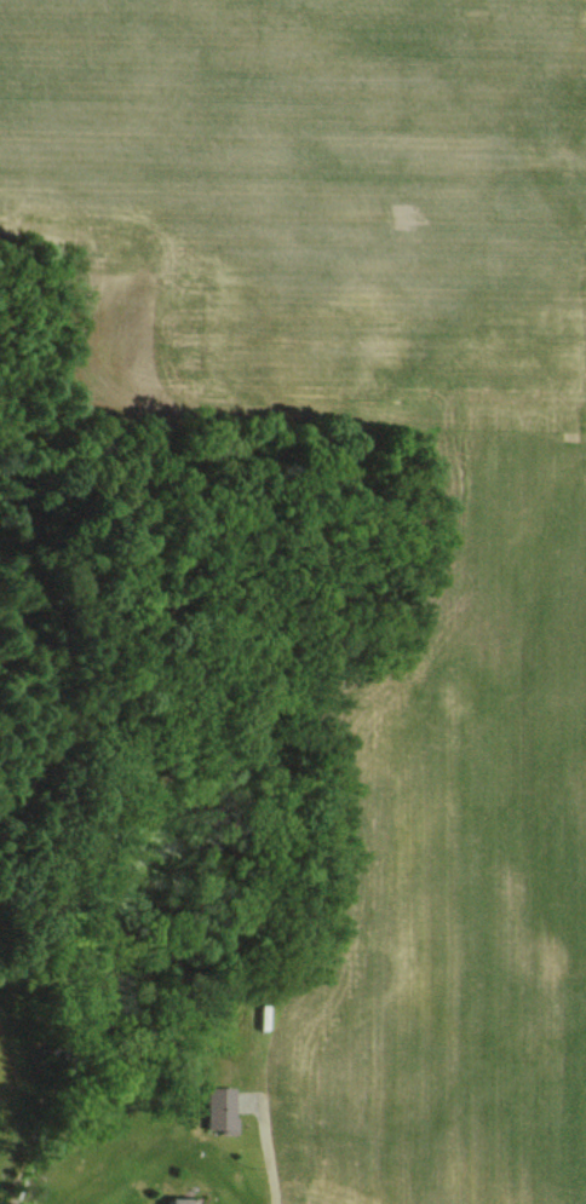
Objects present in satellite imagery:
building: (214, 1110)
building: (170, 1200)

